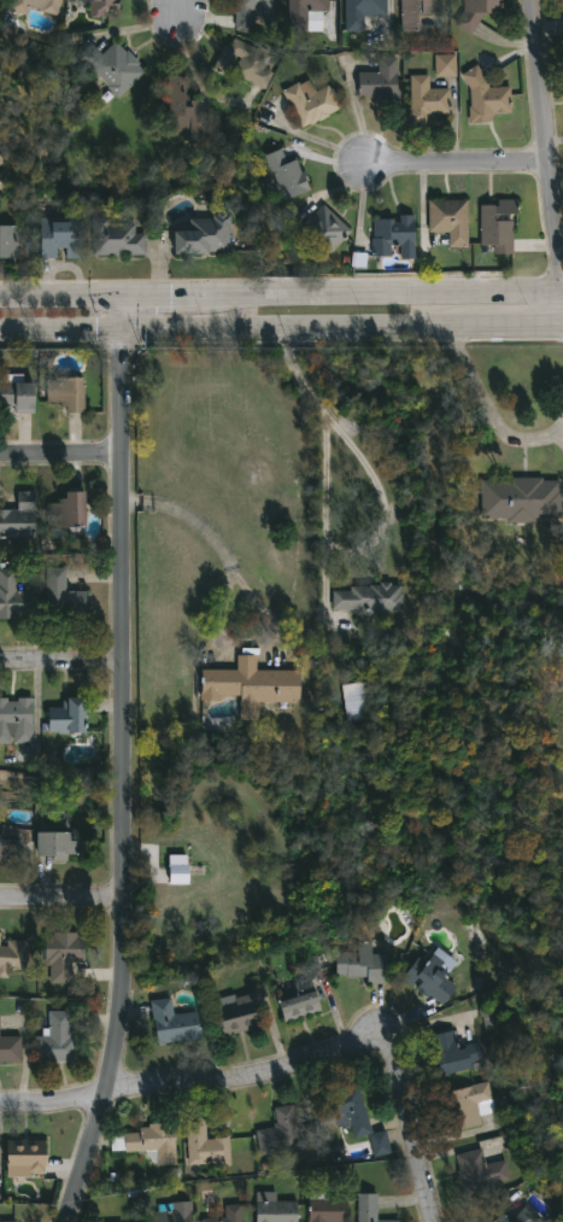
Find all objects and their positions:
building: (37, 6)
building: (101, 6)
building: (250, 12)
building: (414, 12)
road: (180, 13)
building: (299, 13)
building: (473, 13)
building: (360, 14)
building: (248, 65)
building: (445, 66)
building: (116, 68)
building: (377, 83)
building: (482, 98)
building: (307, 101)
building: (422, 101)
building: (178, 110)
road: (547, 127)
building: (2, 159)
road: (458, 165)
building: (282, 176)
building: (2, 186)
building: (446, 218)
building: (494, 226)
building: (321, 230)
building: (201, 235)
building: (64, 236)
building: (391, 238)
building: (113, 239)
building: (10, 242)
road: (387, 292)
road: (165, 294)
traffic signals: (170, 294)
road: (59, 296)
road: (517, 323)
road: (236, 327)
traffic signals: (95, 329)
traffic signals: (119, 356)
building: (72, 391)
building: (17, 397)
road: (487, 409)
road: (59, 455)
building: (516, 497)
building: (71, 509)
road: (385, 511)
building: (20, 518)
road: (250, 592)
building: (63, 596)
building: (14, 597)
building: (366, 598)
road: (59, 663)
building: (251, 686)
building: (358, 701)
building: (68, 717)
building: (16, 721)
road: (122, 762)
building: (10, 844)
building: (57, 846)
building: (177, 870)
road: (63, 901)
building: (64, 955)
building: (13, 957)
building: (359, 965)
building: (432, 977)
building: (298, 1000)
building: (237, 1013)
building: (172, 1024)
building: (54, 1040)
building: (10, 1049)
building: (454, 1053)
road: (286, 1070)
building: (467, 1106)
building: (352, 1117)
building: (278, 1133)
building: (145, 1142)
building: (205, 1146)
building: (25, 1158)
building: (479, 1171)
building: (274, 1209)
building: (366, 1209)
building: (328, 1210)
building: (172, 1212)
building: (229, 1215)
building: (522, 1216)
building: (11, 1221)

